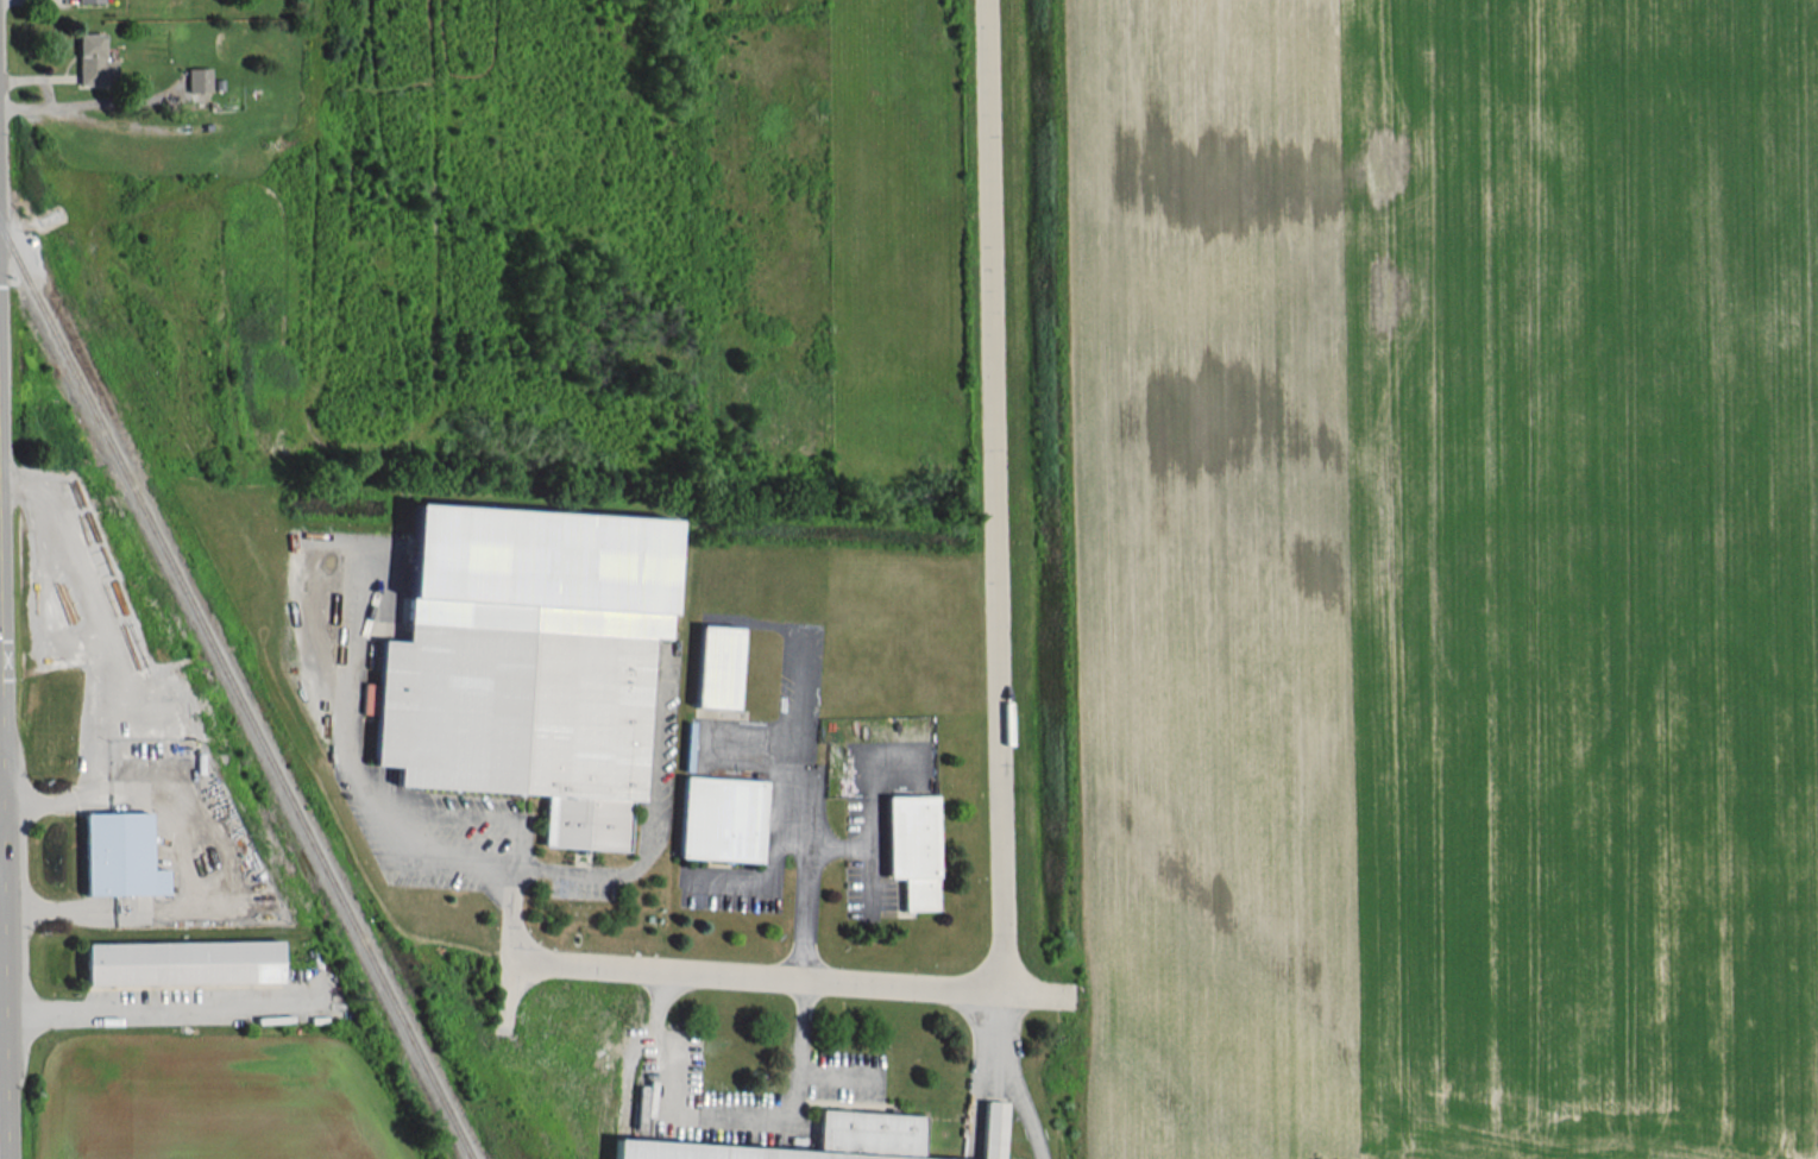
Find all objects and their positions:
building: (89, 0)
building: (94, 61)
building: (199, 78)
road: (40, 94)
road: (999, 496)
building: (528, 660)
building: (716, 666)
railway: (244, 692)
parking lot: (876, 814)
road: (389, 818)
building: (721, 818)
parking lot: (512, 819)
road: (1, 836)
building: (912, 848)
building: (119, 855)
road: (807, 862)
parking lot: (731, 886)
road: (6, 927)
building: (183, 962)
road: (770, 977)
road: (159, 1008)
road: (1014, 1077)
road: (728, 1116)
building: (868, 1126)
building: (992, 1129)

